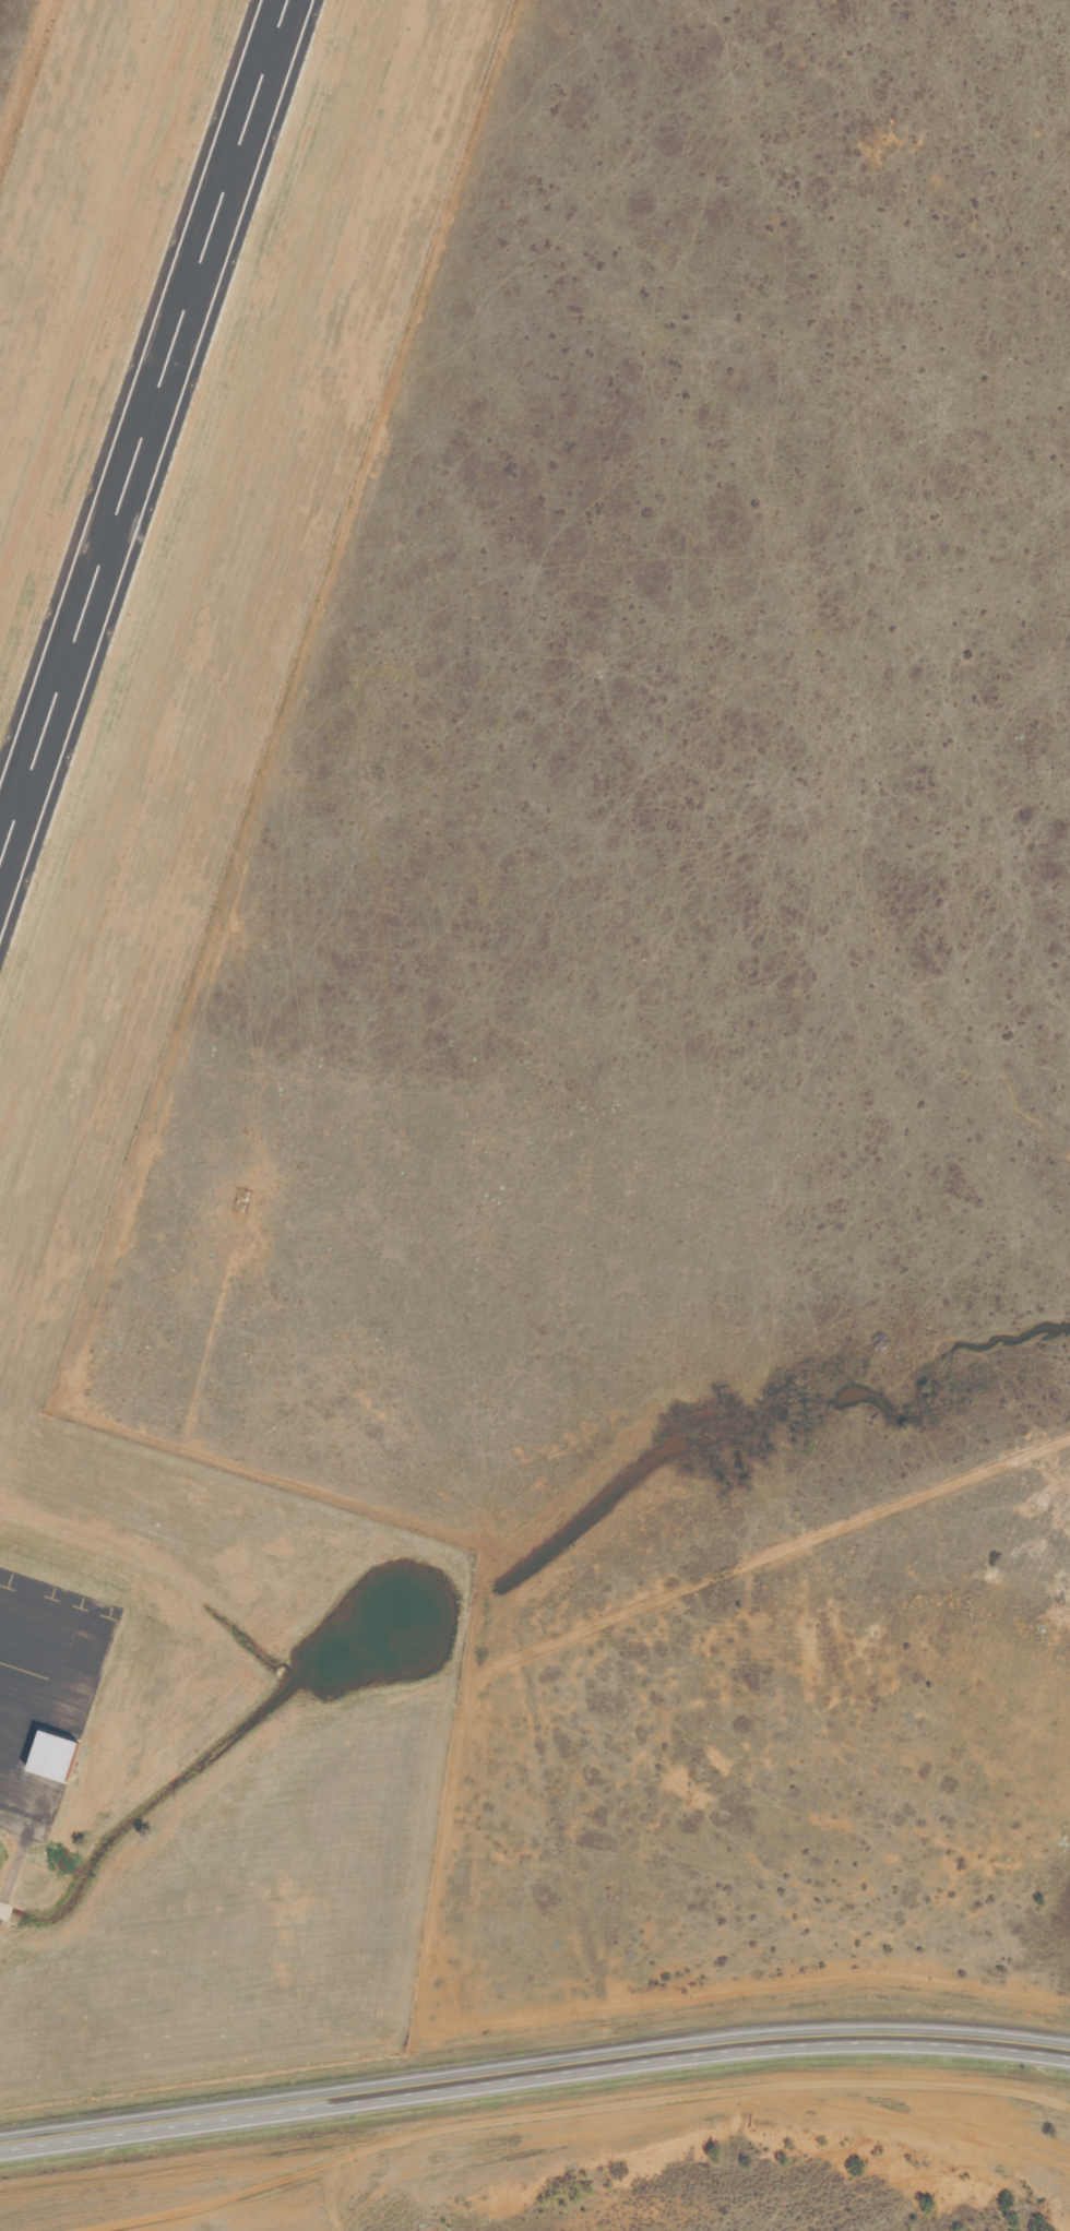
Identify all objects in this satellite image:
airport runway: (142, 427)
airport: (128, 774)
airport apron: (45, 1695)
building: (52, 1757)
road: (17, 1849)
road: (442, 1858)
road: (534, 2077)
road: (697, 2094)
river: (730, 2132)
road: (334, 2197)
road: (210, 2205)

